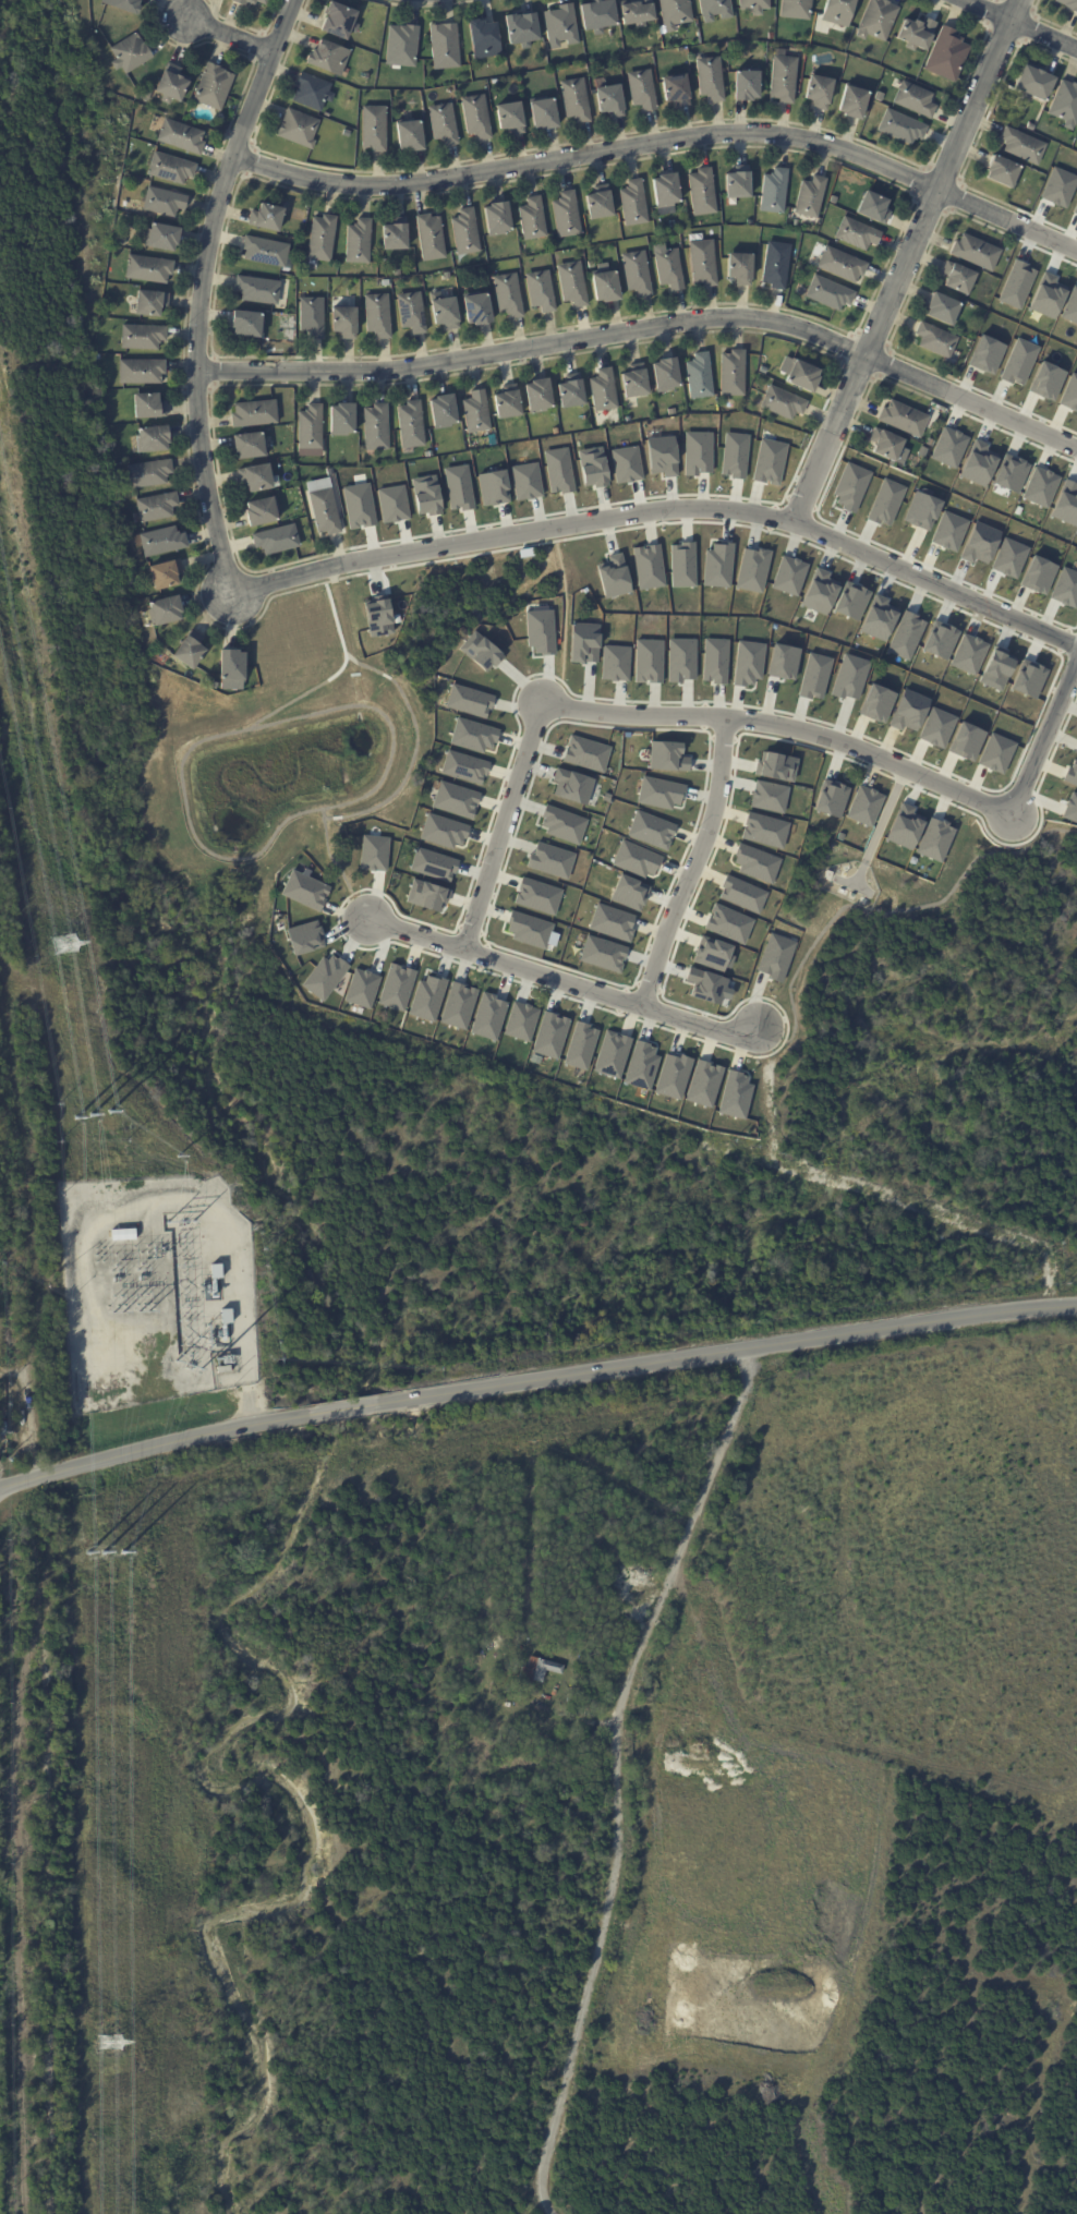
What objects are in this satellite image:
building: (247, 1)
building: (1068, 3)
building: (123, 4)
building: (755, 5)
building: (715, 9)
building: (797, 9)
building: (637, 12)
building: (839, 12)
building: (676, 13)
building: (598, 15)
building: (340, 20)
building: (879, 20)
road: (1018, 23)
building: (561, 25)
building: (522, 28)
building: (919, 33)
road: (230, 35)
building: (484, 39)
building: (402, 45)
building: (445, 46)
building: (130, 53)
building: (947, 55)
building: (328, 58)
building: (582, 60)
building: (804, 75)
building: (711, 78)
building: (784, 78)
building: (171, 84)
building: (748, 84)
building: (1034, 84)
building: (213, 86)
building: (643, 89)
building: (677, 89)
building: (821, 90)
building: (313, 92)
building: (145, 95)
building: (576, 99)
building: (916, 99)
building: (610, 100)
building: (854, 101)
building: (1065, 105)
building: (544, 113)
building: (476, 117)
building: (511, 118)
building: (444, 123)
building: (1031, 126)
building: (299, 128)
building: (901, 128)
building: (374, 129)
building: (344, 132)
building: (410, 135)
building: (181, 136)
road: (662, 144)
building: (1024, 146)
building: (170, 168)
building: (1002, 170)
building: (739, 183)
building: (1057, 186)
building: (667, 191)
building: (775, 191)
building: (703, 192)
building: (811, 197)
building: (834, 199)
building: (162, 202)
building: (601, 203)
building: (634, 203)
building: (874, 207)
building: (1075, 208)
building: (567, 215)
building: (266, 218)
building: (498, 218)
building: (533, 219)
building: (465, 232)
building: (858, 233)
building: (396, 234)
building: (162, 238)
building: (322, 238)
building: (431, 238)
building: (359, 241)
building: (266, 251)
building: (977, 252)
road: (907, 261)
building: (704, 263)
building: (591, 264)
building: (777, 265)
building: (842, 265)
building: (741, 268)
building: (147, 269)
building: (669, 269)
building: (638, 273)
building: (397, 274)
building: (959, 278)
building: (1016, 283)
building: (572, 285)
building: (606, 285)
building: (257, 290)
building: (541, 291)
road: (202, 293)
building: (830, 293)
building: (509, 295)
building: (1045, 297)
building: (150, 303)
building: (1070, 306)
building: (477, 308)
building: (944, 308)
building: (412, 313)
building: (446, 313)
building: (377, 315)
building: (312, 317)
building: (344, 323)
building: (246, 324)
road: (648, 329)
building: (142, 337)
building: (936, 340)
building: (97, 352)
building: (985, 354)
building: (96, 358)
building: (1018, 361)
building: (141, 372)
building: (734, 374)
building: (667, 375)
building: (701, 376)
building: (803, 376)
building: (1045, 380)
building: (637, 382)
building: (604, 391)
building: (572, 392)
building: (1069, 394)
building: (538, 396)
building: (508, 403)
building: (783, 403)
building: (148, 407)
building: (444, 412)
building: (671, 412)
building: (254, 413)
building: (476, 413)
building: (342, 420)
building: (629, 420)
building: (905, 420)
building: (411, 425)
building: (310, 427)
building: (376, 428)
building: (153, 440)
building: (931, 444)
building: (250, 446)
building: (887, 447)
building: (949, 448)
building: (697, 452)
building: (661, 455)
building: (735, 455)
building: (769, 461)
building: (626, 463)
building: (977, 463)
building: (592, 467)
building: (558, 469)
building: (1011, 473)
building: (148, 474)
building: (256, 479)
building: (525, 481)
building: (458, 486)
building: (850, 486)
building: (1040, 486)
building: (493, 487)
building: (425, 494)
building: (885, 501)
building: (392, 503)
building: (1066, 503)
building: (358, 505)
building: (156, 508)
building: (324, 508)
road: (664, 508)
building: (921, 511)
building: (262, 512)
building: (948, 531)
building: (276, 540)
building: (161, 543)
building: (979, 543)
building: (1009, 557)
building: (717, 564)
building: (681, 565)
building: (648, 566)
building: (752, 569)
building: (134, 570)
building: (788, 574)
building: (1038, 574)
building: (166, 576)
building: (613, 576)
building: (1065, 588)
building: (819, 591)
building: (850, 601)
building: (165, 613)
building: (377, 617)
building: (878, 618)
building: (540, 631)
building: (905, 634)
building: (939, 640)
building: (583, 642)
building: (480, 651)
building: (190, 652)
building: (967, 654)
building: (680, 660)
building: (646, 661)
building: (714, 661)
building: (782, 662)
building: (614, 663)
building: (747, 663)
building: (231, 667)
building: (995, 668)
building: (814, 676)
building: (849, 677)
building: (1028, 678)
building: (468, 700)
building: (876, 703)
building: (907, 710)
building: (936, 727)
road: (783, 729)
building: (473, 735)
road: (1043, 735)
building: (966, 741)
building: (1075, 750)
building: (995, 752)
building: (585, 753)
building: (666, 757)
building: (463, 766)
building: (775, 766)
building: (1070, 773)
building: (570, 785)
building: (658, 793)
building: (767, 796)
building: (831, 798)
road: (185, 799)
building: (455, 799)
building: (863, 806)
building: (1070, 808)
building: (562, 824)
building: (904, 826)
road: (504, 828)
building: (443, 830)
building: (650, 830)
building: (764, 830)
building: (934, 838)
building: (373, 852)
building: (634, 858)
building: (549, 860)
building: (754, 862)
building: (433, 864)
road: (697, 868)
building: (304, 890)
building: (628, 892)
building: (741, 894)
building: (425, 895)
building: (536, 895)
building: (610, 922)
building: (728, 923)
building: (528, 929)
building: (304, 937)
power tower: (63, 944)
building: (713, 953)
building: (602, 954)
building: (775, 956)
building: (324, 976)
road: (562, 982)
building: (707, 985)
building: (395, 987)
building: (361, 988)
building: (426, 997)
building: (457, 1005)
building: (487, 1016)
building: (519, 1021)
building: (549, 1035)
building: (579, 1045)
building: (610, 1055)
building: (641, 1065)
building: (673, 1076)
building: (703, 1084)
building: (735, 1094)
power tower: (109, 1112)
power tower: (74, 1116)
power tower: (90, 1116)
power tower: (178, 1157)
building: (123, 1235)
building: (215, 1245)
building: (216, 1271)
building: (214, 1283)
power substation: (155, 1291)
road: (727, 1351)
building: (227, 1365)
building: (228, 1383)
road: (343, 1408)
building: (3, 1429)
road: (153, 1447)
power tower: (87, 1553)
power tower: (102, 1553)
power tower: (122, 1554)
building: (538, 1669)
building: (637, 1721)
road: (613, 1776)
power tower: (108, 2043)

